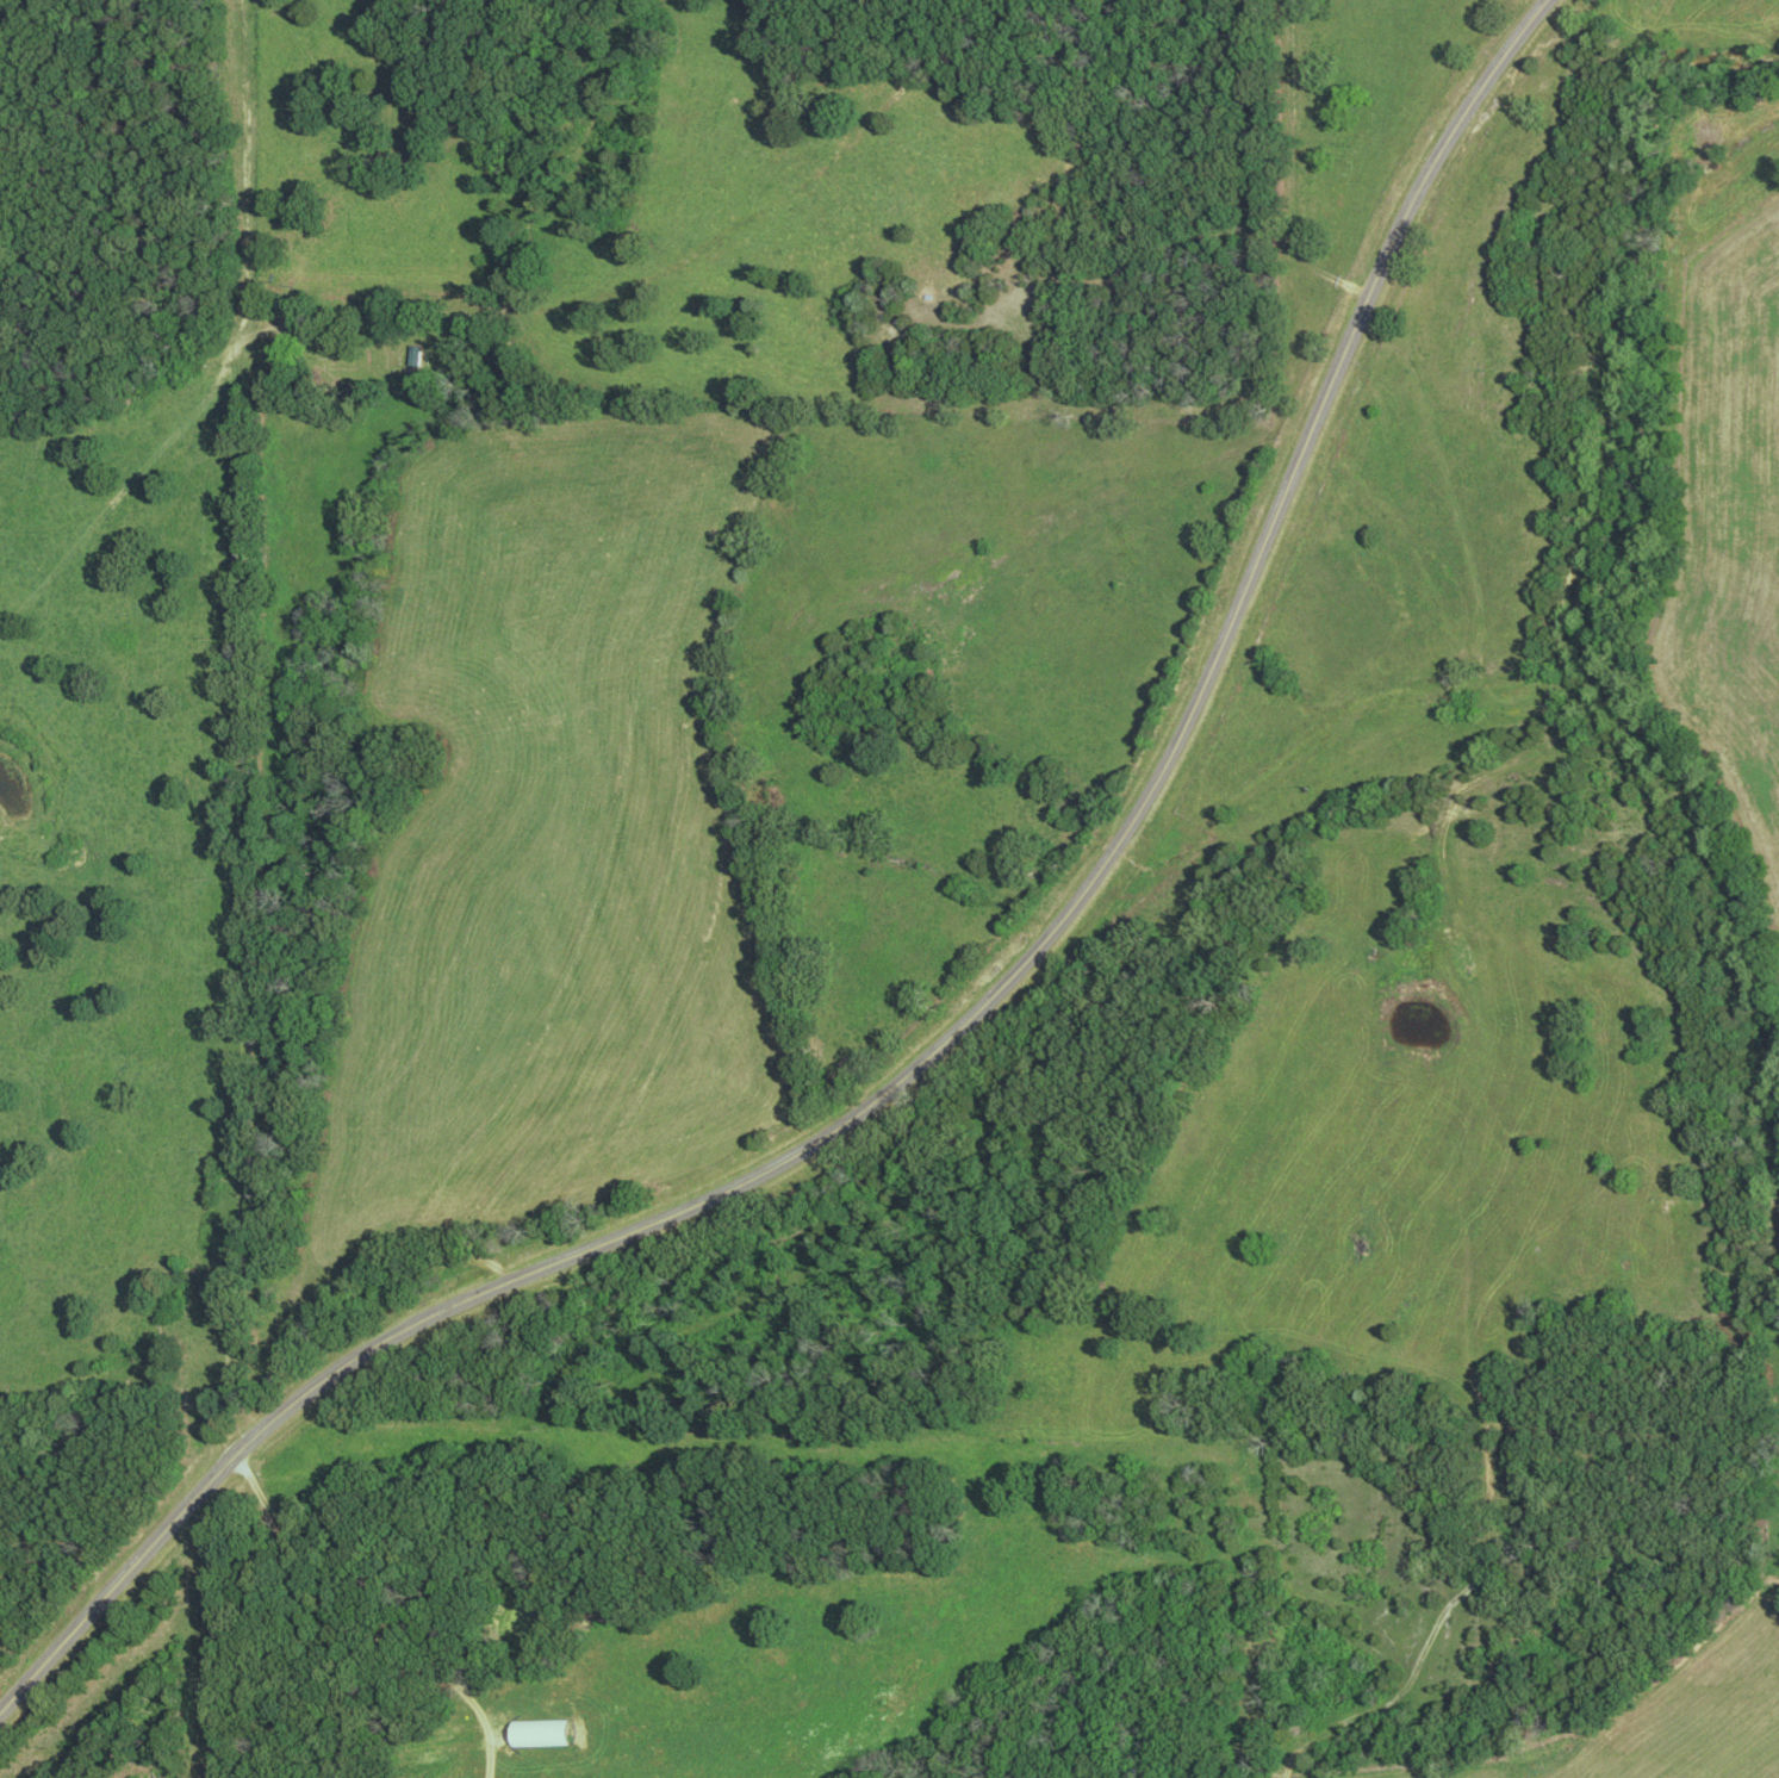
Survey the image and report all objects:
road: (247, 725)
road: (960, 1033)
road: (118, 1401)
road: (367, 1628)
building: (413, 1741)

